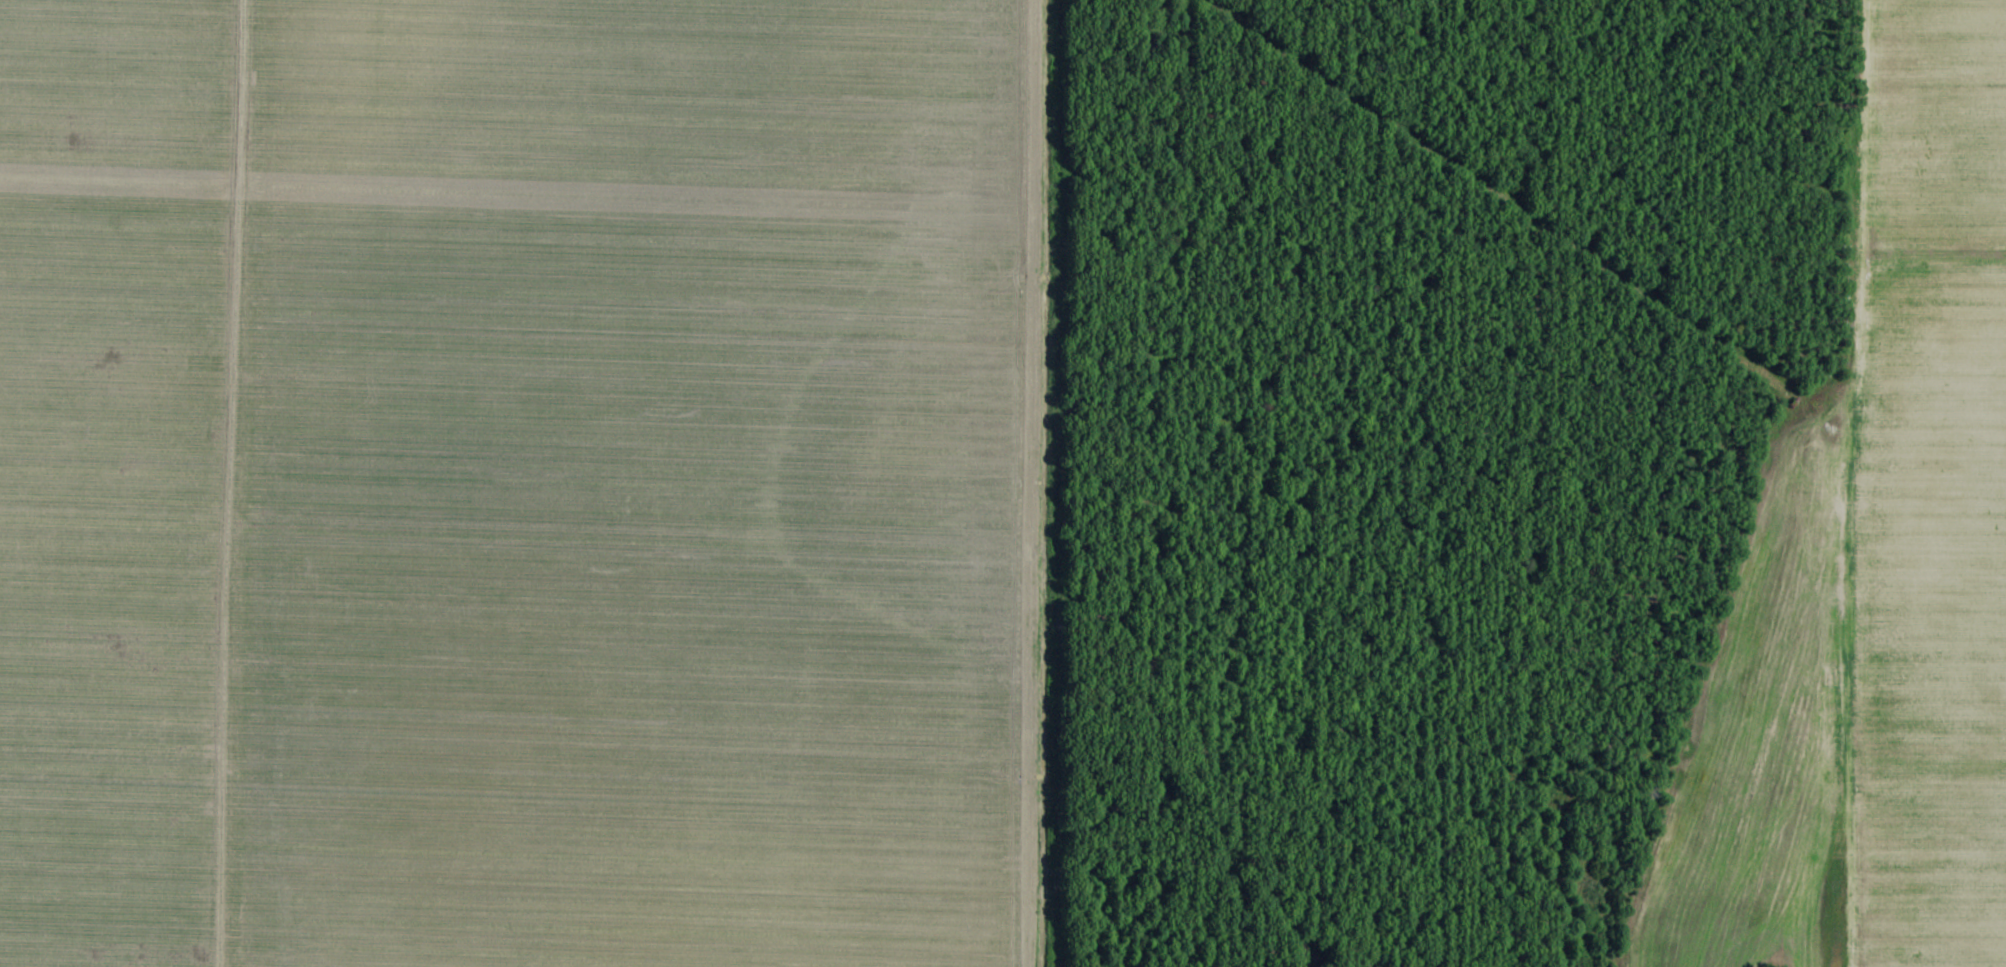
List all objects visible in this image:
road: (1855, 483)

